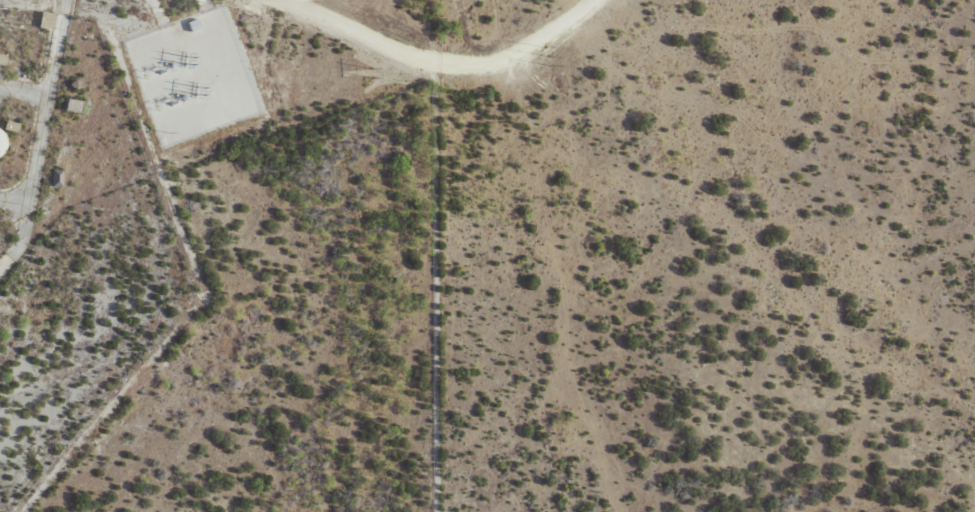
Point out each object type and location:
building: (191, 25)
power tower: (552, 58)
power tower: (193, 60)
road: (422, 68)
power tower: (374, 74)
power substation: (194, 75)
power tower: (206, 91)
road: (25, 93)
road: (49, 107)
road: (29, 237)

